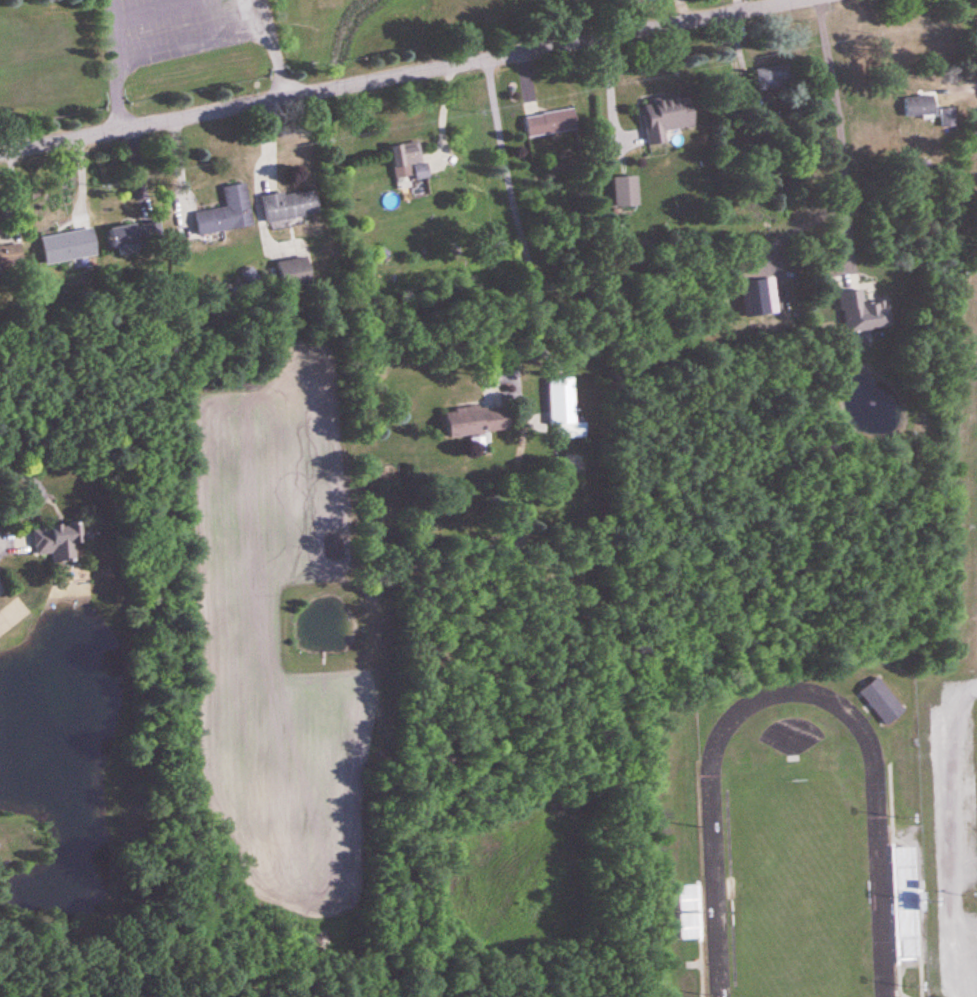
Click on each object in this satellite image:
park: (21, 4)
road: (706, 16)
road: (114, 65)
building: (773, 77)
road: (956, 83)
road: (316, 92)
building: (919, 107)
building: (666, 117)
building: (550, 123)
road: (834, 127)
building: (409, 158)
building: (289, 206)
building: (226, 212)
road: (518, 217)
building: (135, 234)
building: (68, 247)
building: (11, 257)
building: (293, 273)
building: (862, 314)
building: (564, 410)
building: (477, 421)
building: (58, 541)
building: (881, 702)
building: (904, 879)
track: (715, 892)
building: (690, 913)

